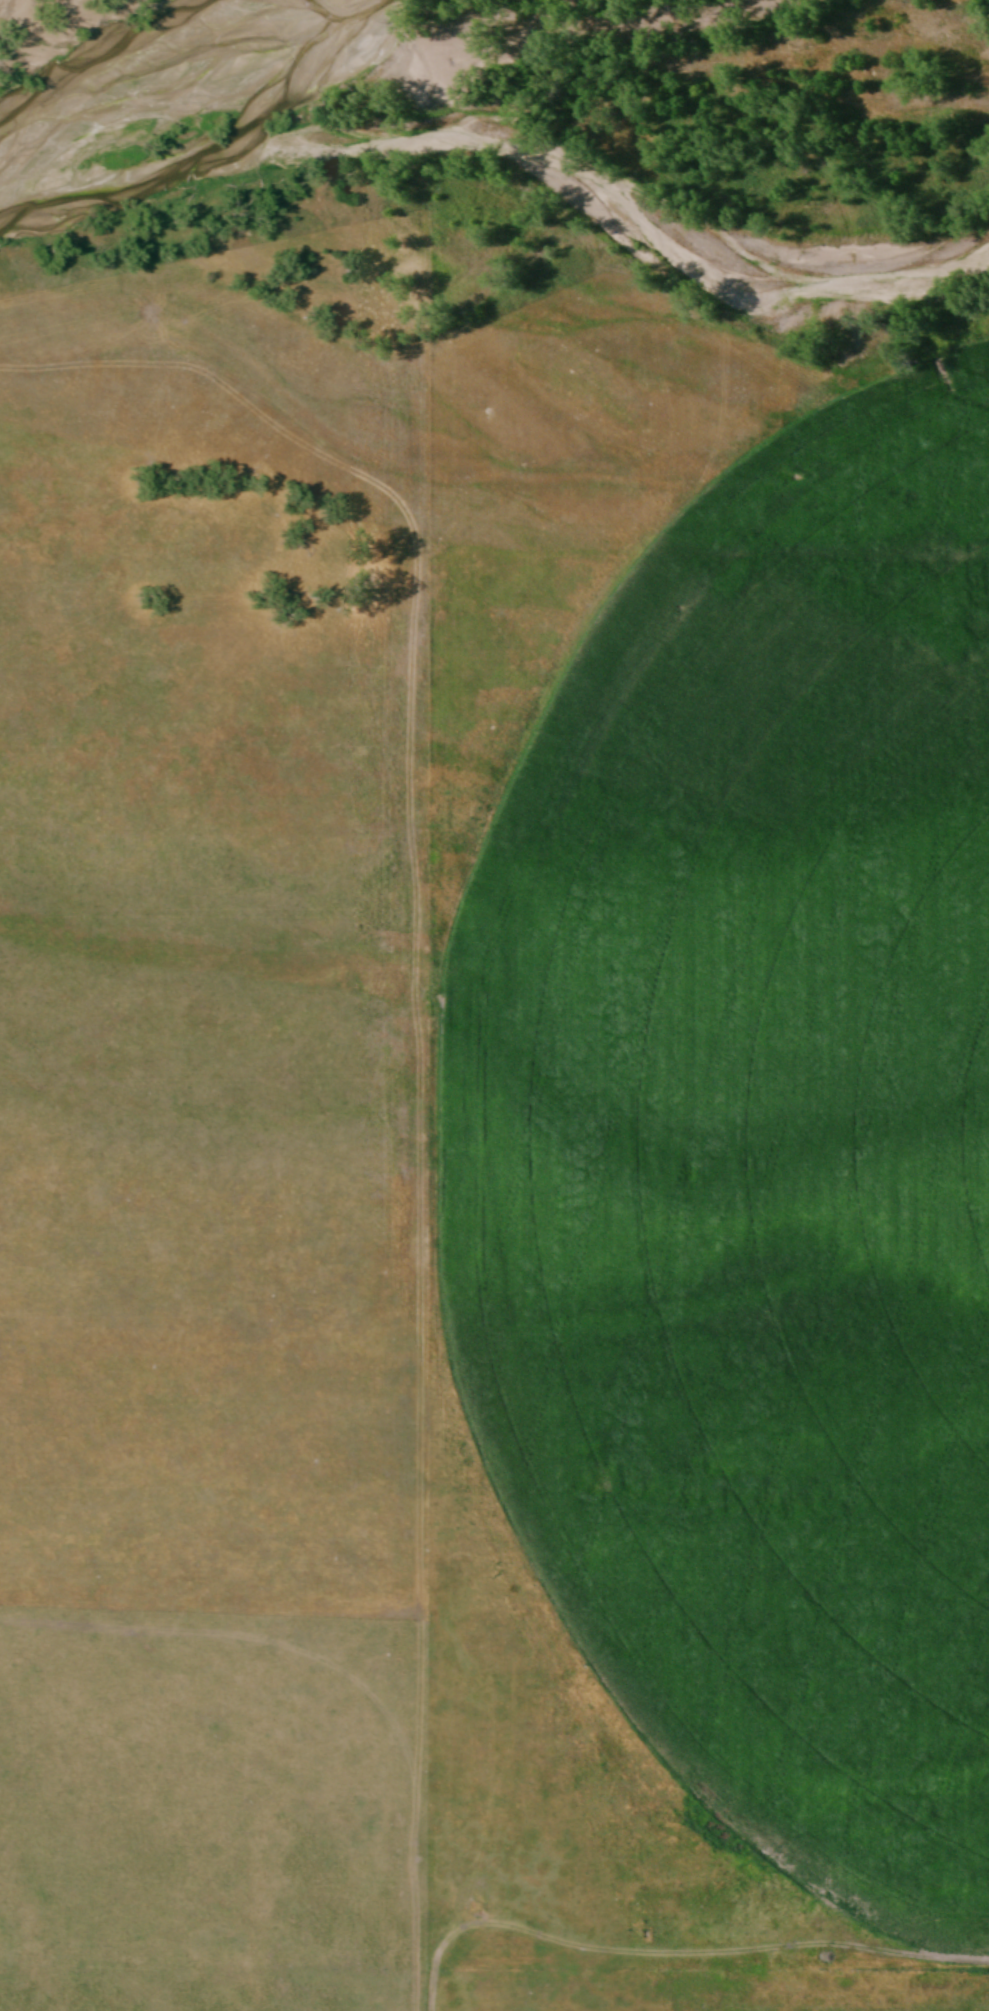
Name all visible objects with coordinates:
river: (114, 52)

